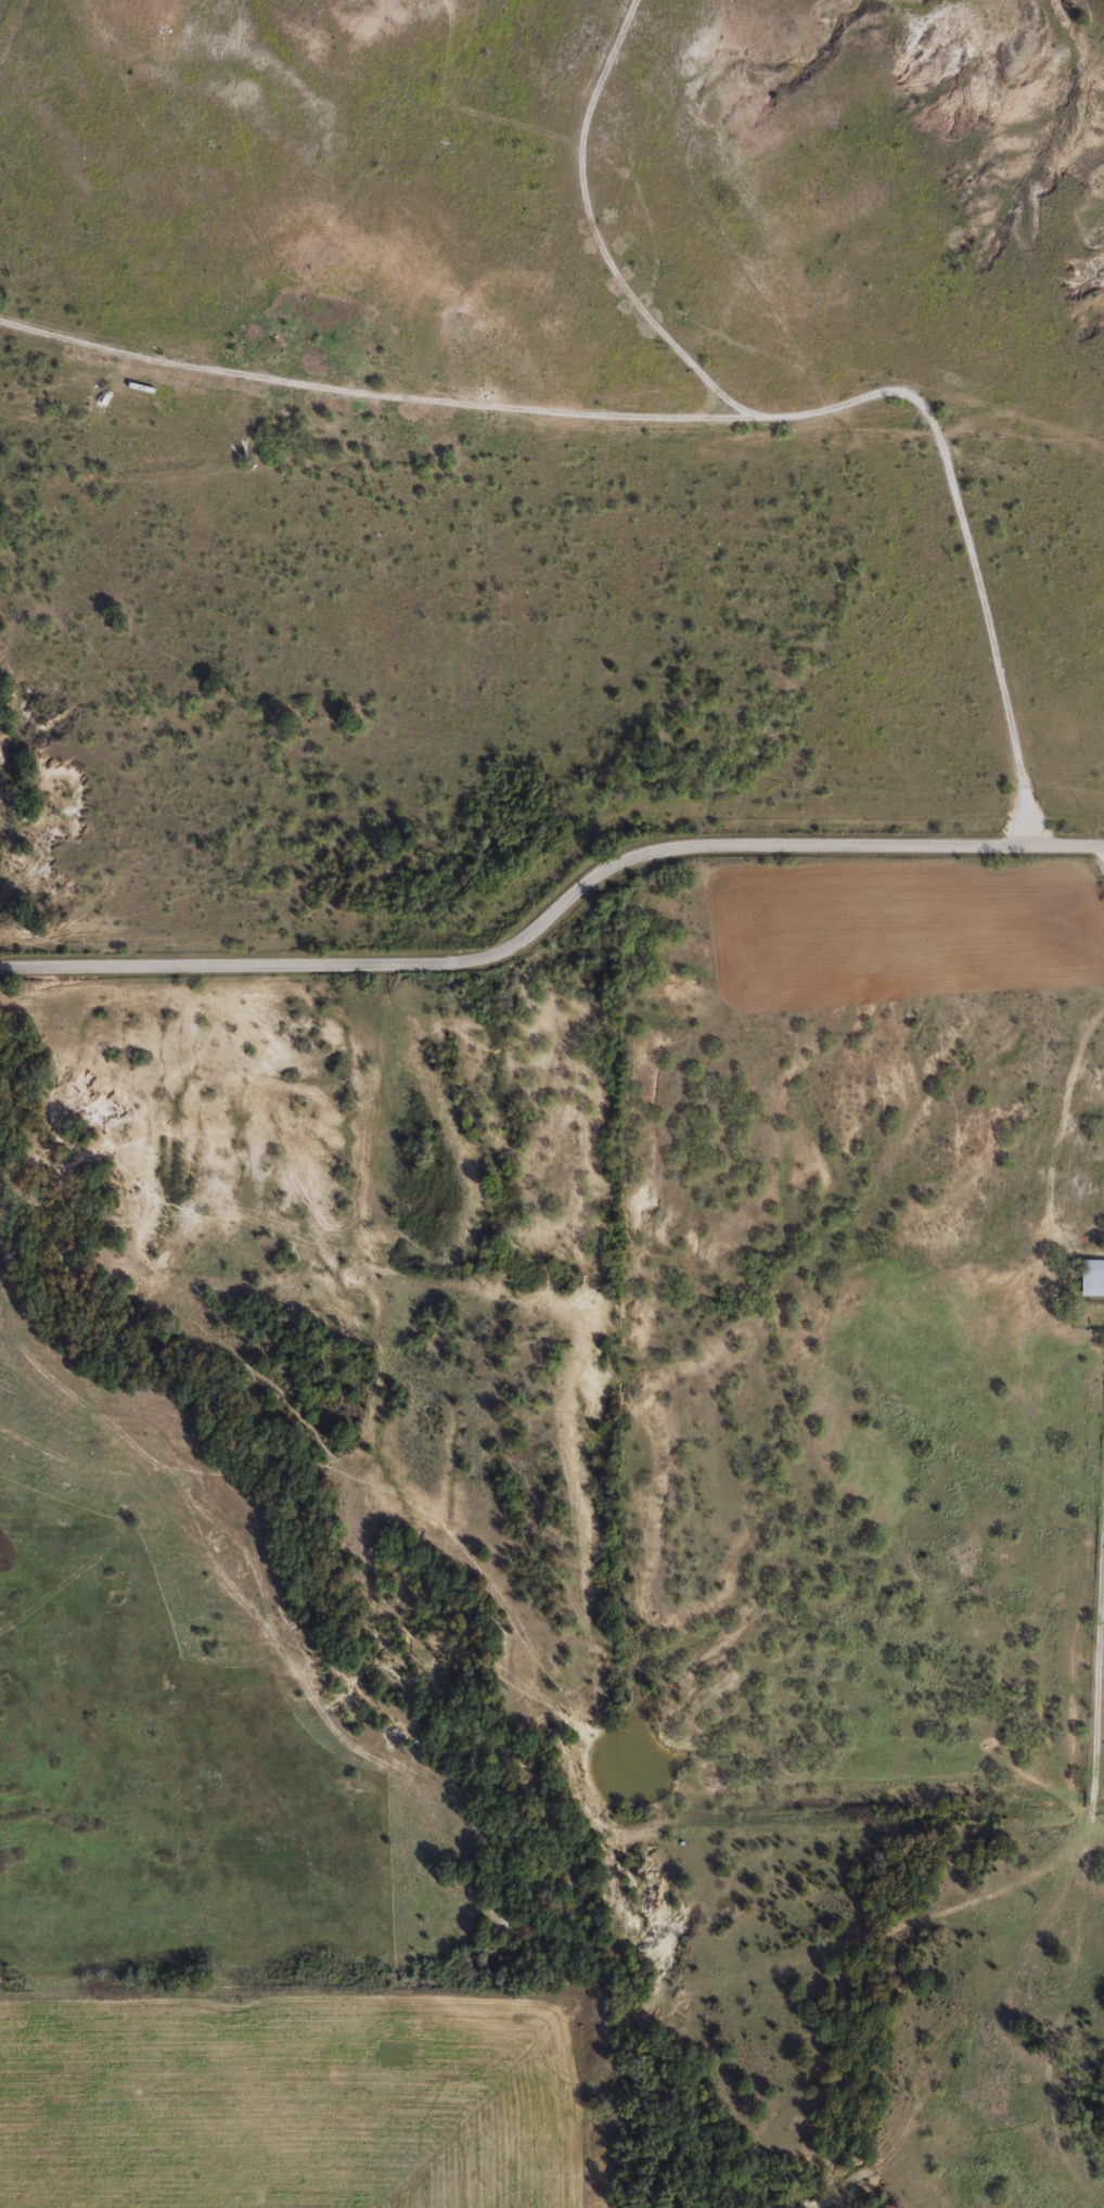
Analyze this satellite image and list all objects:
road: (595, 231)
road: (686, 418)
road: (553, 910)
building: (1092, 1277)
road: (1097, 1647)

